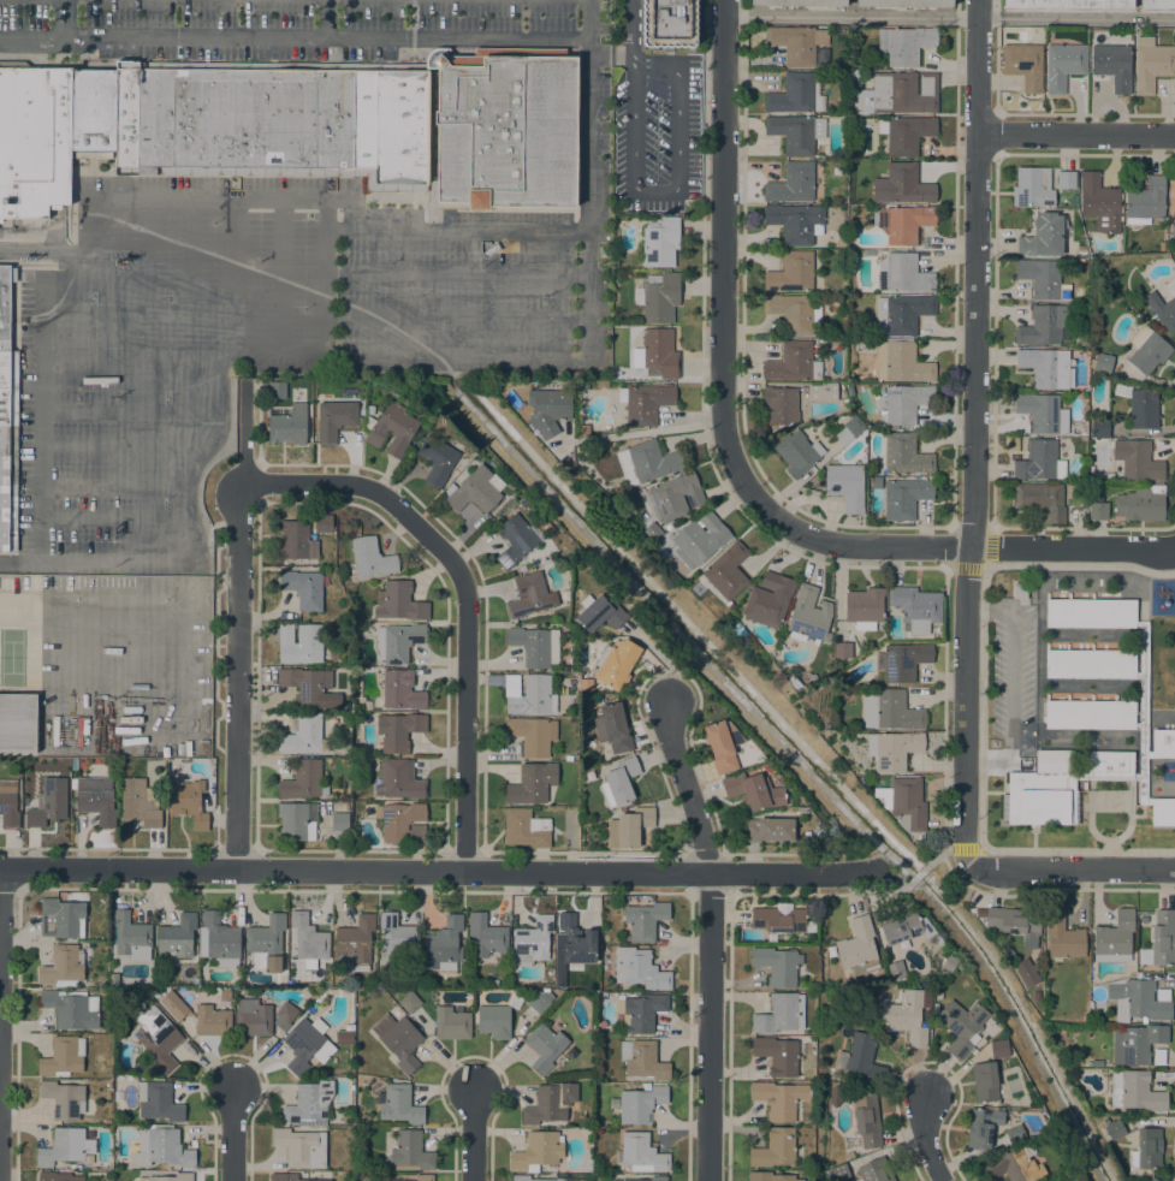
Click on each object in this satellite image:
building: (801, 2)
building: (904, 4)
building: (1069, 4)
building: (1157, 4)
road: (948, 16)
road: (63, 19)
road: (327, 19)
building: (669, 22)
road: (293, 38)
building: (796, 43)
building: (906, 43)
building: (1063, 64)
building: (1152, 64)
building: (1023, 65)
building: (1112, 65)
building: (900, 93)
building: (796, 94)
building: (93, 113)
building: (286, 124)
building: (505, 126)
building: (796, 132)
parking lot: (658, 133)
building: (906, 133)
road: (1076, 133)
building: (127, 137)
building: (34, 140)
road: (589, 179)
building: (1066, 179)
building: (793, 183)
building: (902, 184)
building: (1033, 186)
road: (652, 190)
road: (201, 198)
building: (1100, 201)
building: (1145, 201)
building: (1171, 203)
parking lot: (280, 219)
building: (796, 221)
building: (903, 222)
road: (457, 230)
building: (1044, 235)
road: (95, 238)
building: (660, 242)
building: (1163, 245)
road: (47, 248)
building: (1082, 251)
building: (868, 253)
road: (722, 260)
road: (457, 272)
road: (236, 273)
building: (794, 273)
building: (903, 273)
building: (12, 274)
road: (281, 274)
road: (975, 274)
building: (1040, 277)
road: (91, 279)
road: (189, 279)
road: (326, 279)
road: (143, 281)
building: (658, 297)
building: (1163, 305)
building: (4, 307)
building: (793, 311)
building: (902, 313)
road: (457, 316)
road: (91, 324)
building: (1044, 326)
building: (1147, 349)
building: (657, 354)
road: (404, 360)
building: (793, 362)
building: (901, 362)
building: (1103, 362)
road: (131, 366)
building: (1048, 367)
building: (8, 387)
building: (277, 390)
building: (829, 391)
building: (645, 402)
building: (902, 402)
building: (782, 404)
building: (1139, 405)
building: (370, 409)
building: (548, 409)
road: (129, 411)
building: (1043, 413)
road: (40, 419)
building: (334, 419)
building: (289, 425)
building: (1100, 427)
building: (392, 428)
building: (848, 431)
road: (640, 432)
building: (8, 440)
road: (124, 444)
building: (797, 452)
building: (906, 453)
building: (438, 458)
building: (1137, 459)
building: (1040, 461)
building: (647, 462)
building: (7, 470)
building: (876, 482)
building: (845, 485)
road: (112, 487)
building: (475, 489)
building: (673, 497)
building: (904, 497)
building: (1040, 499)
building: (1141, 504)
building: (1098, 510)
building: (7, 517)
road: (113, 517)
building: (324, 523)
road: (190, 526)
building: (652, 529)
building: (699, 539)
building: (297, 540)
building: (516, 540)
road: (862, 545)
road: (1072, 548)
building: (370, 557)
road: (19, 560)
building: (725, 571)
building: (303, 588)
building: (1020, 589)
road: (468, 593)
building: (529, 595)
building: (769, 599)
building: (399, 601)
building: (730, 605)
road: (992, 606)
building: (864, 607)
building: (916, 607)
building: (1091, 612)
building: (600, 613)
building: (809, 616)
road: (694, 617)
road: (663, 627)
building: (737, 630)
building: (565, 634)
building: (398, 641)
building: (299, 642)
building: (535, 645)
building: (842, 649)
building: (902, 660)
building: (616, 663)
building: (1090, 663)
road: (238, 677)
building: (794, 682)
building: (586, 683)
road: (1013, 683)
building: (307, 684)
building: (400, 690)
building: (529, 694)
building: (364, 704)
road: (966, 705)
building: (889, 710)
building: (1090, 713)
building: (1143, 714)
building: (343, 718)
building: (18, 723)
building: (613, 728)
building: (397, 730)
building: (533, 734)
building: (304, 735)
building: (1163, 743)
building: (723, 744)
building: (892, 749)
building: (568, 756)
road: (989, 756)
building: (1110, 765)
building: (73, 766)
building: (769, 767)
building: (1081, 776)
building: (303, 779)
building: (398, 781)
building: (619, 781)
building: (532, 783)
road: (688, 788)
building: (753, 790)
building: (1043, 791)
building: (882, 795)
building: (95, 797)
building: (48, 802)
building: (140, 802)
building: (189, 802)
building: (906, 802)
building: (8, 803)
building: (362, 808)
building: (803, 811)
building: (1163, 813)
building: (339, 818)
building: (297, 820)
building: (402, 821)
building: (629, 826)
building: (526, 827)
building: (767, 829)
building: (817, 831)
building: (833, 831)
road: (965, 848)
road: (938, 855)
road: (925, 861)
road: (1070, 870)
road: (354, 871)
road: (796, 873)
road: (916, 874)
road: (894, 877)
road: (907, 888)
building: (61, 918)
building: (779, 918)
building: (645, 919)
building: (1014, 920)
building: (906, 927)
building: (131, 936)
building: (178, 936)
building: (398, 936)
building: (485, 936)
building: (1063, 936)
building: (1115, 937)
building: (1163, 937)
building: (218, 938)
building: (308, 939)
building: (575, 939)
building: (938, 939)
building: (532, 940)
building: (267, 943)
building: (355, 943)
building: (856, 943)
building: (443, 944)
building: (831, 950)
building: (949, 962)
building: (63, 965)
building: (776, 965)
building: (640, 968)
building: (896, 971)
building: (1027, 972)
building: (225, 995)
building: (1035, 995)
building: (1140, 998)
building: (168, 999)
building: (515, 999)
building: (540, 999)
building: (409, 1001)
building: (71, 1008)
building: (641, 1011)
building: (284, 1014)
building: (777, 1014)
building: (906, 1014)
building: (254, 1016)
building: (212, 1020)
building: (494, 1020)
building: (452, 1022)
building: (962, 1026)
road: (710, 1027)
road: (1008, 1029)
building: (344, 1035)
building: (158, 1037)
building: (398, 1039)
building: (1137, 1043)
building: (305, 1045)
building: (545, 1046)
building: (999, 1049)
building: (778, 1055)
building: (63, 1056)
building: (1158, 1056)
building: (862, 1057)
building: (642, 1060)
building: (985, 1081)
building: (1135, 1091)
building: (835, 1096)
building: (64, 1098)
building: (779, 1098)
building: (158, 1100)
building: (550, 1103)
building: (309, 1104)
building: (398, 1104)
building: (639, 1104)
building: (364, 1117)
building: (867, 1118)
building: (983, 1126)
building: (1115, 1129)
road: (231, 1134)
building: (1015, 1134)
road: (474, 1135)
road: (924, 1138)
building: (65, 1146)
building: (161, 1147)
building: (301, 1147)
building: (538, 1149)
building: (773, 1149)
building: (1147, 1149)
building: (410, 1152)
building: (642, 1153)
building: (849, 1155)
building: (1011, 1165)
building: (874, 1170)
building: (837, 1173)
building: (58, 1176)
building: (287, 1176)
building: (770, 1176)
building: (170, 1177)
building: (419, 1177)
building: (521, 1177)
building: (658, 1177)
building: (1153, 1179)

